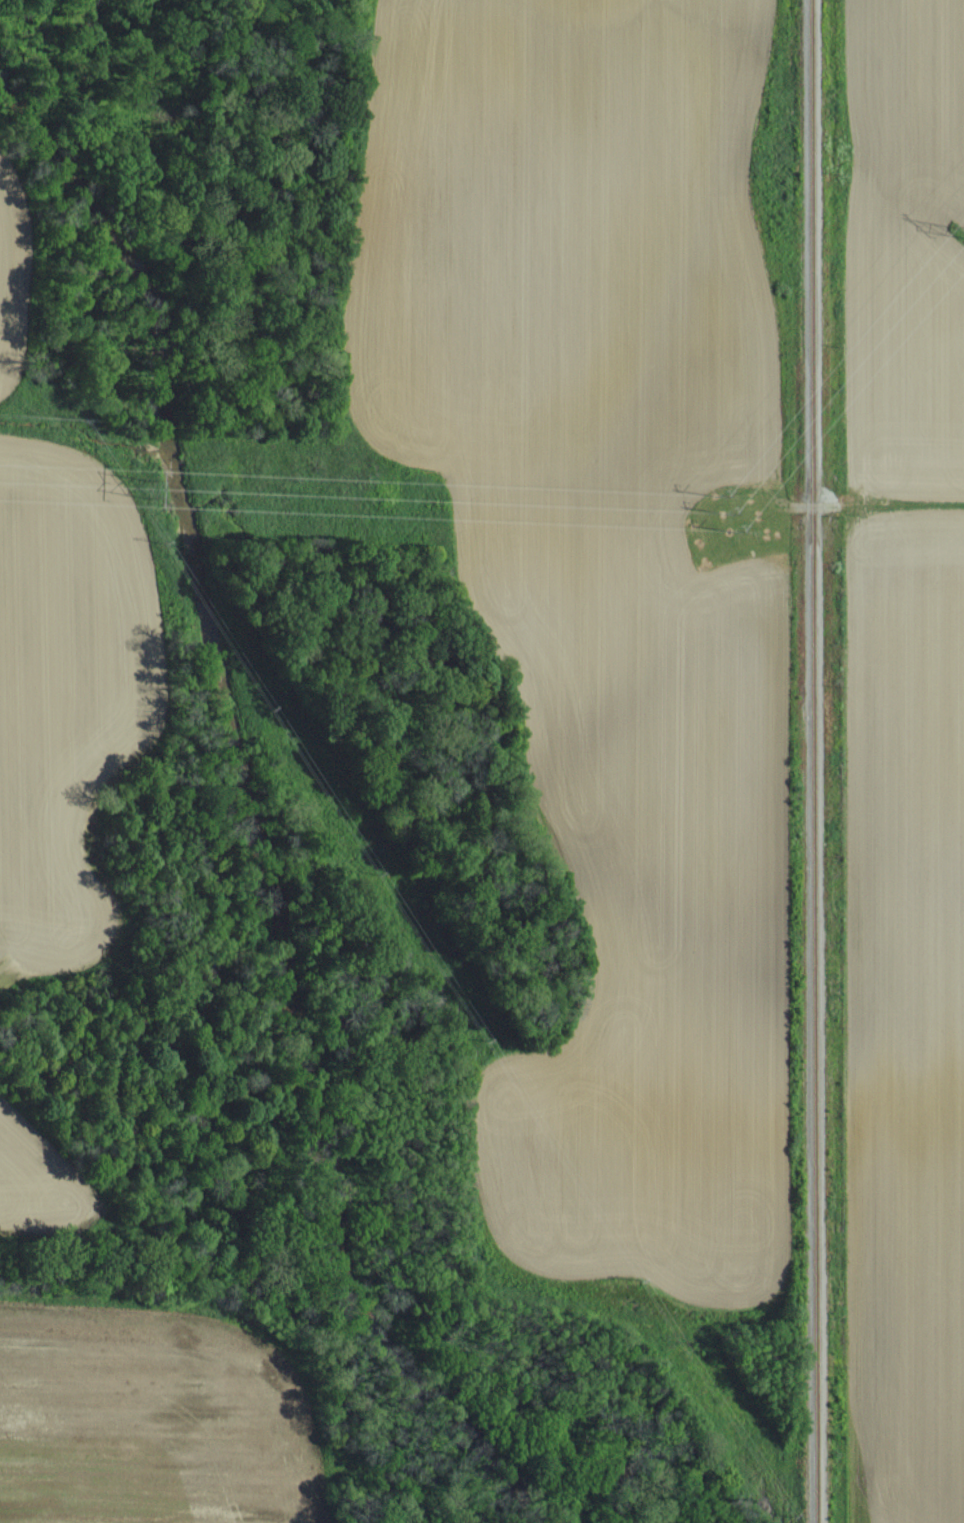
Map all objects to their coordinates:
power tower: (955, 234)
power tower: (146, 489)
road: (907, 502)
power tower: (722, 512)
railway: (814, 761)

